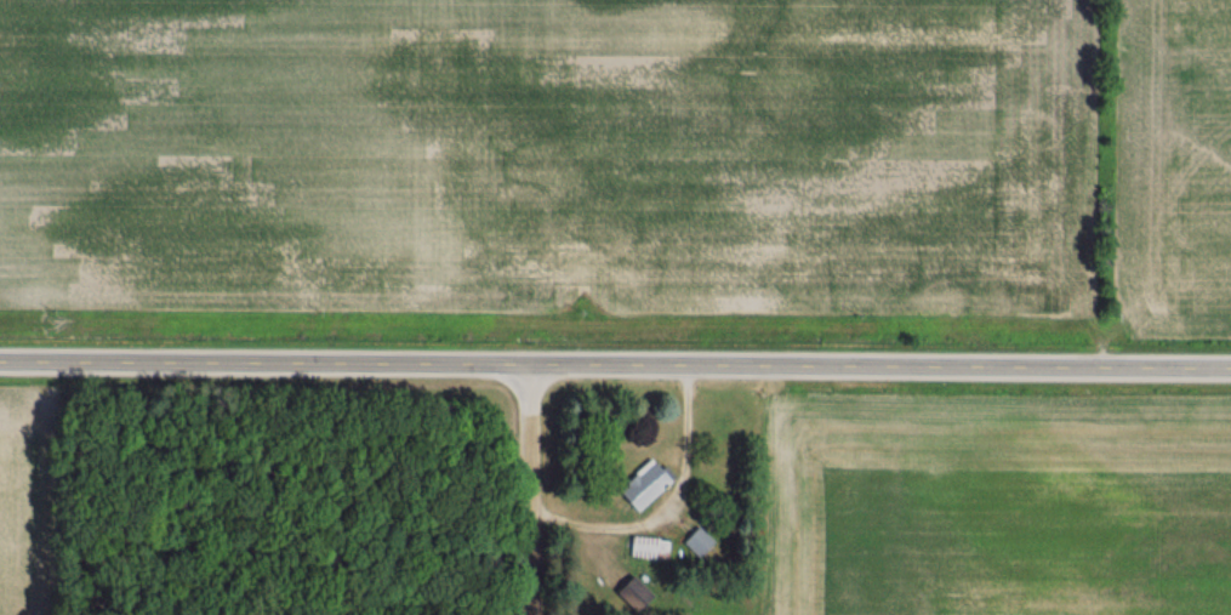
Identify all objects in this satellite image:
road: (615, 361)
building: (645, 485)
road: (528, 488)
road: (668, 509)
building: (699, 542)
building: (650, 548)
building: (631, 594)

